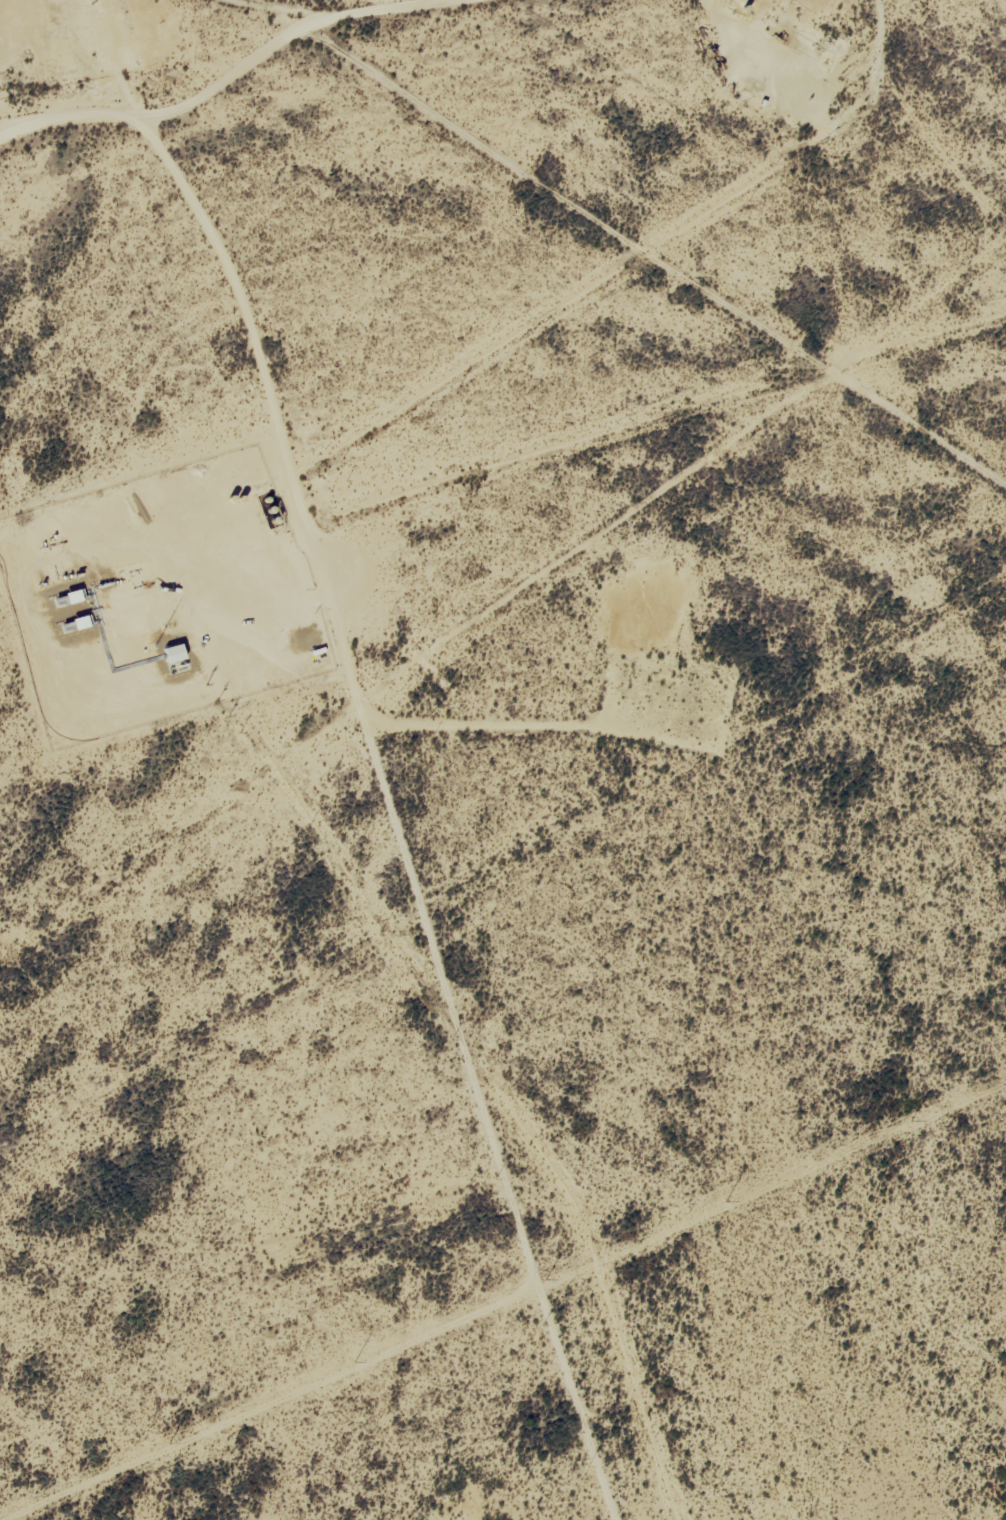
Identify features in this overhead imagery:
road: (531, 21)
road: (521, 200)
building: (178, 656)
road: (363, 768)
power tower: (911, 1121)
power tower: (725, 1202)
power tower: (546, 1281)
power tower: (354, 1362)
power tower: (169, 1443)

